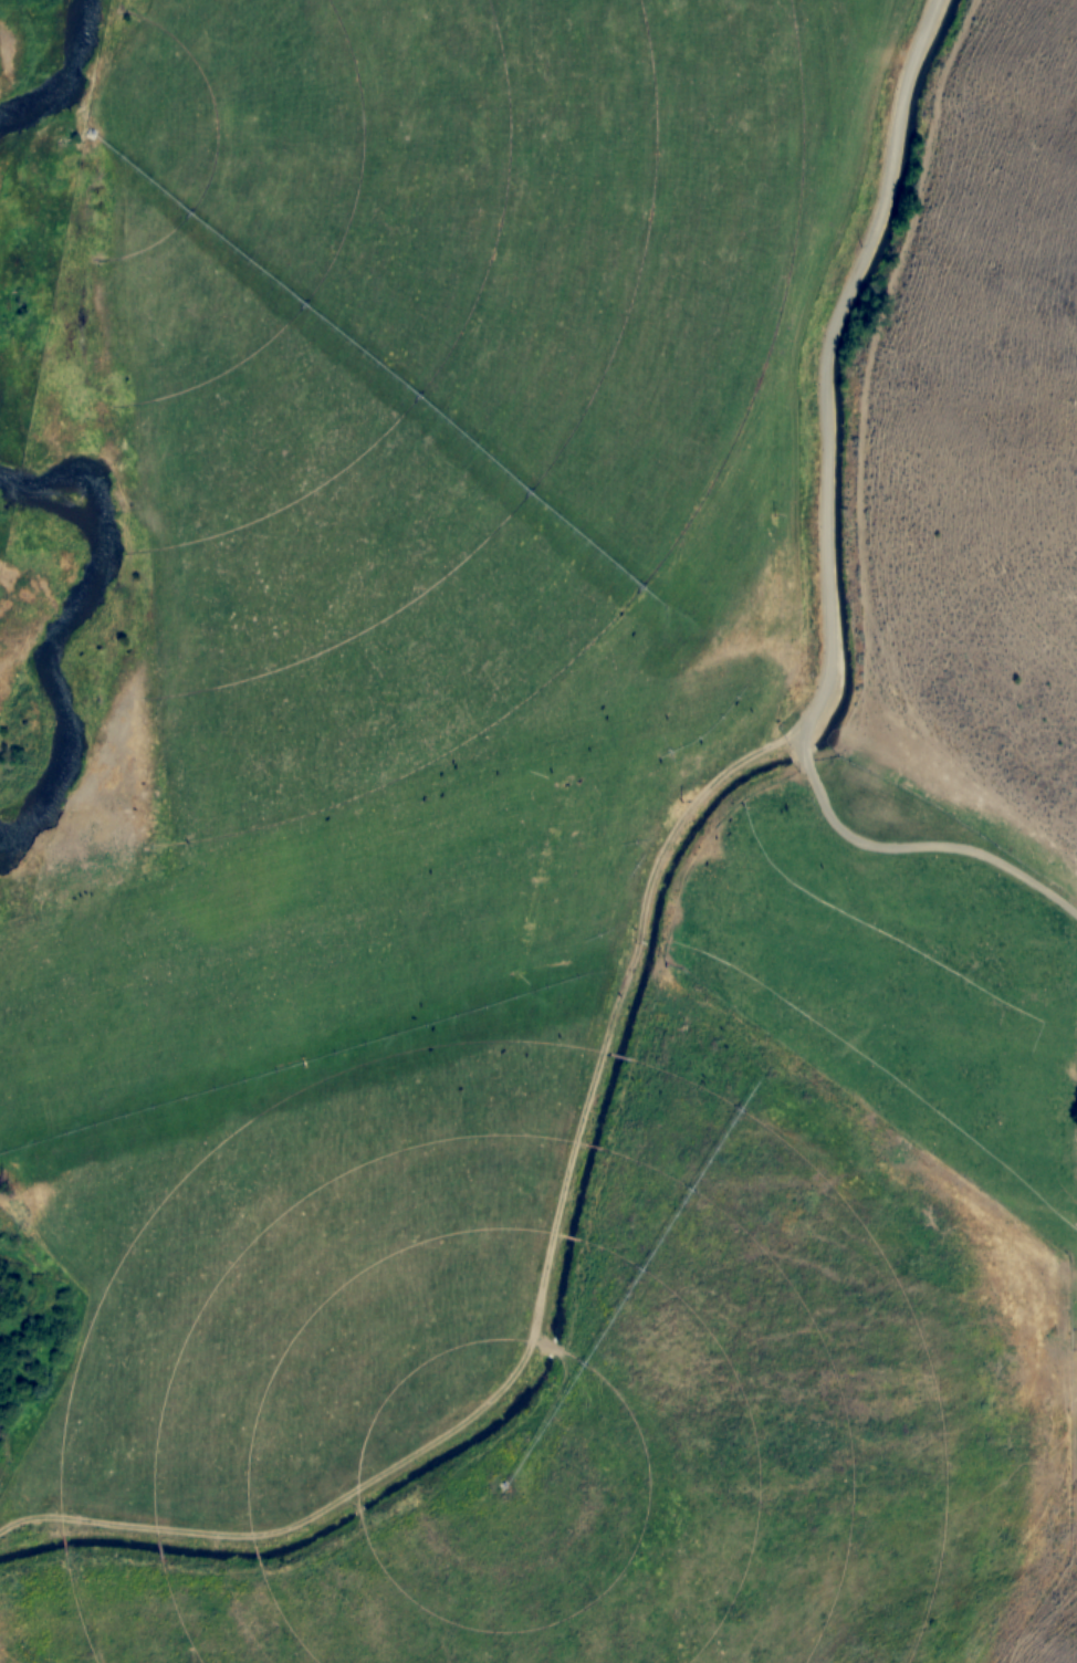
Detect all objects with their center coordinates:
river: (65, 84)
river: (57, 629)

